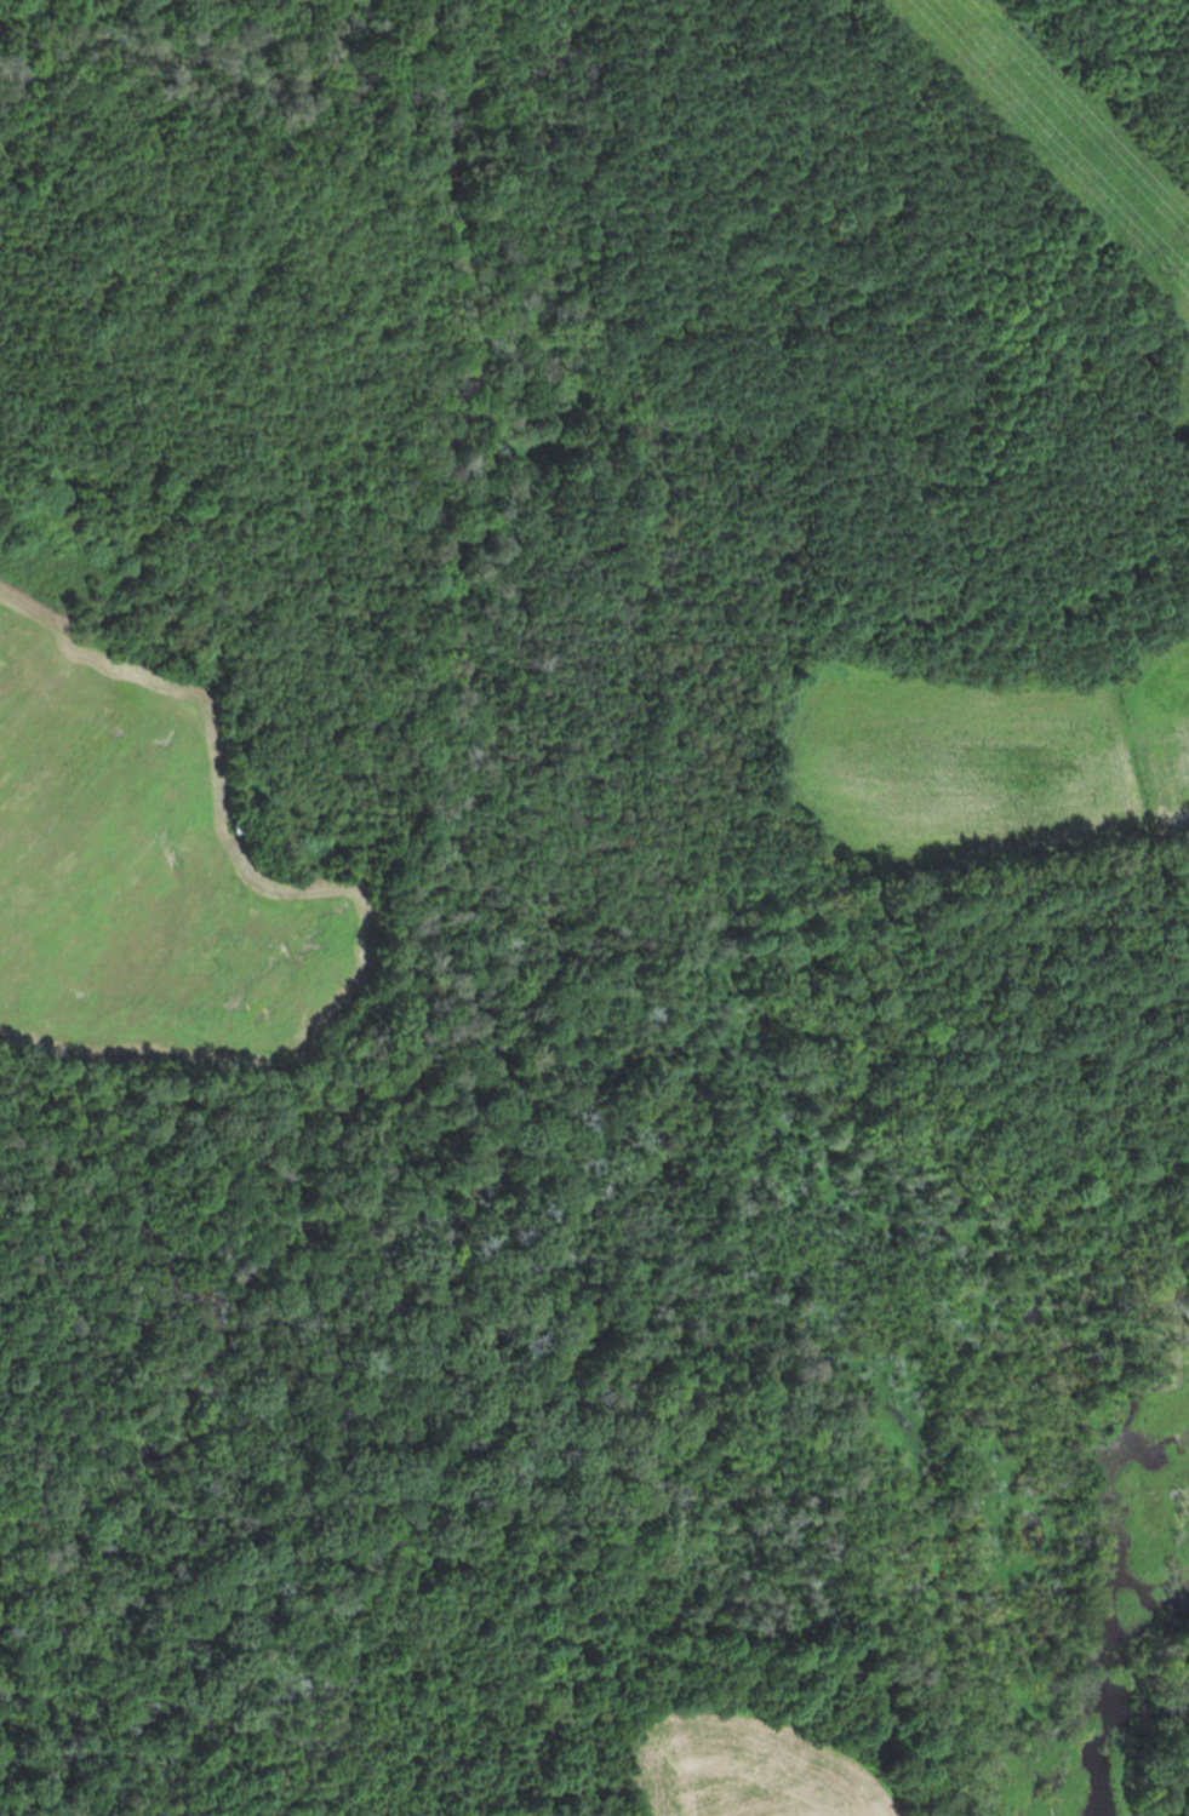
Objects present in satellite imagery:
power tower: (1168, 268)

